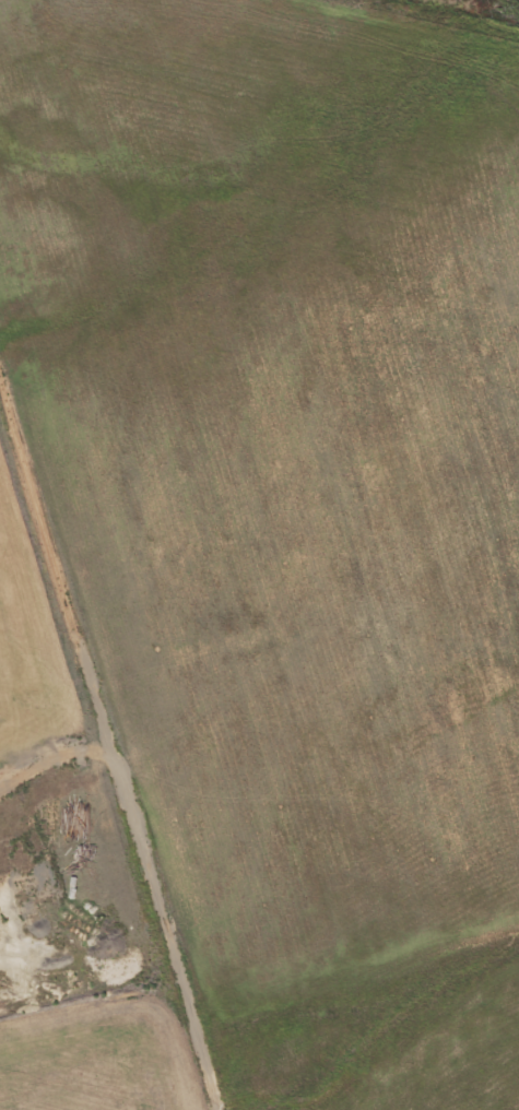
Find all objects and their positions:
road: (114, 735)

